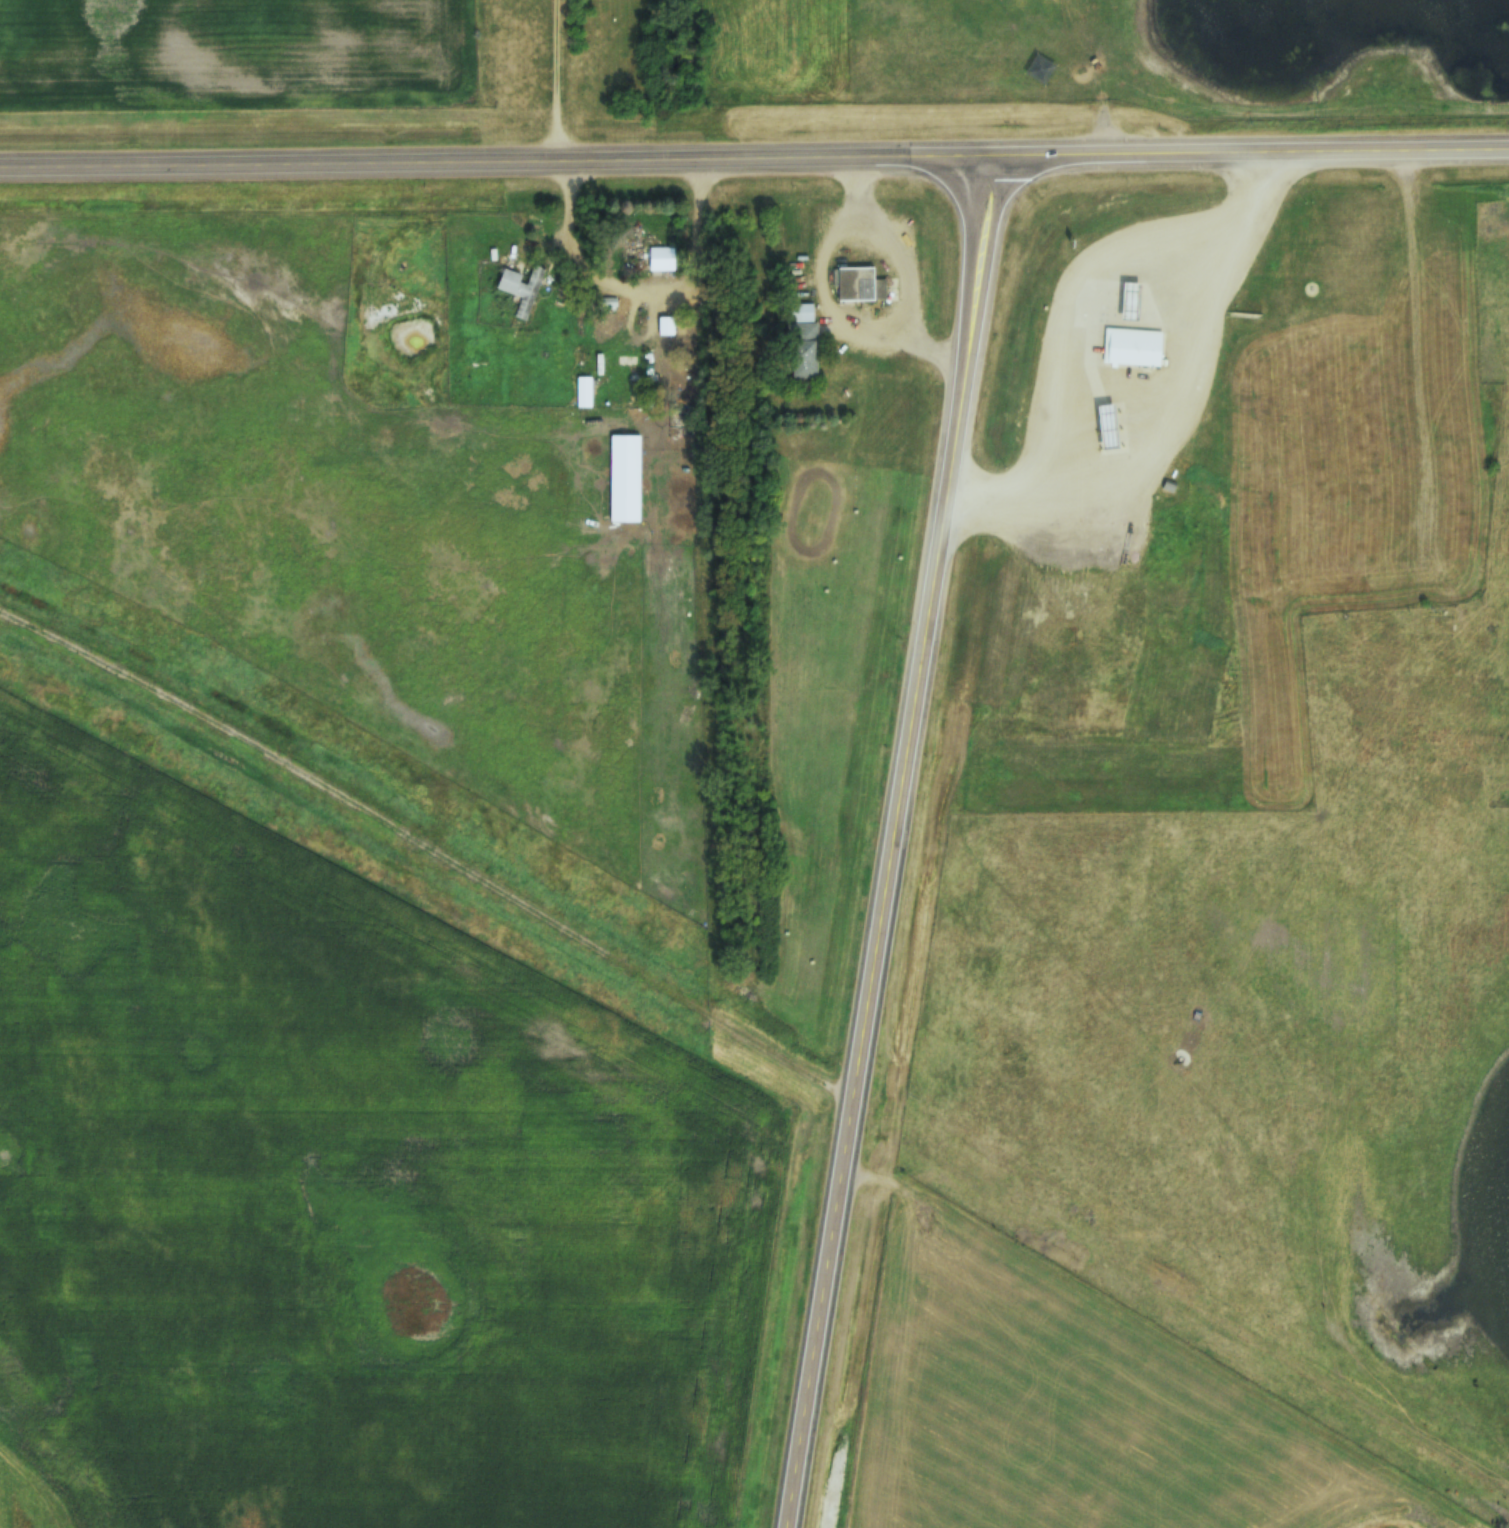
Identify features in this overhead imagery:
road: (551, 79)
road: (1246, 150)
road: (492, 159)
building: (651, 256)
building: (860, 285)
building: (523, 289)
road: (1056, 300)
road: (892, 327)
building: (804, 342)
building: (1134, 349)
road: (922, 354)
building: (583, 393)
road: (1169, 414)
road: (888, 841)

